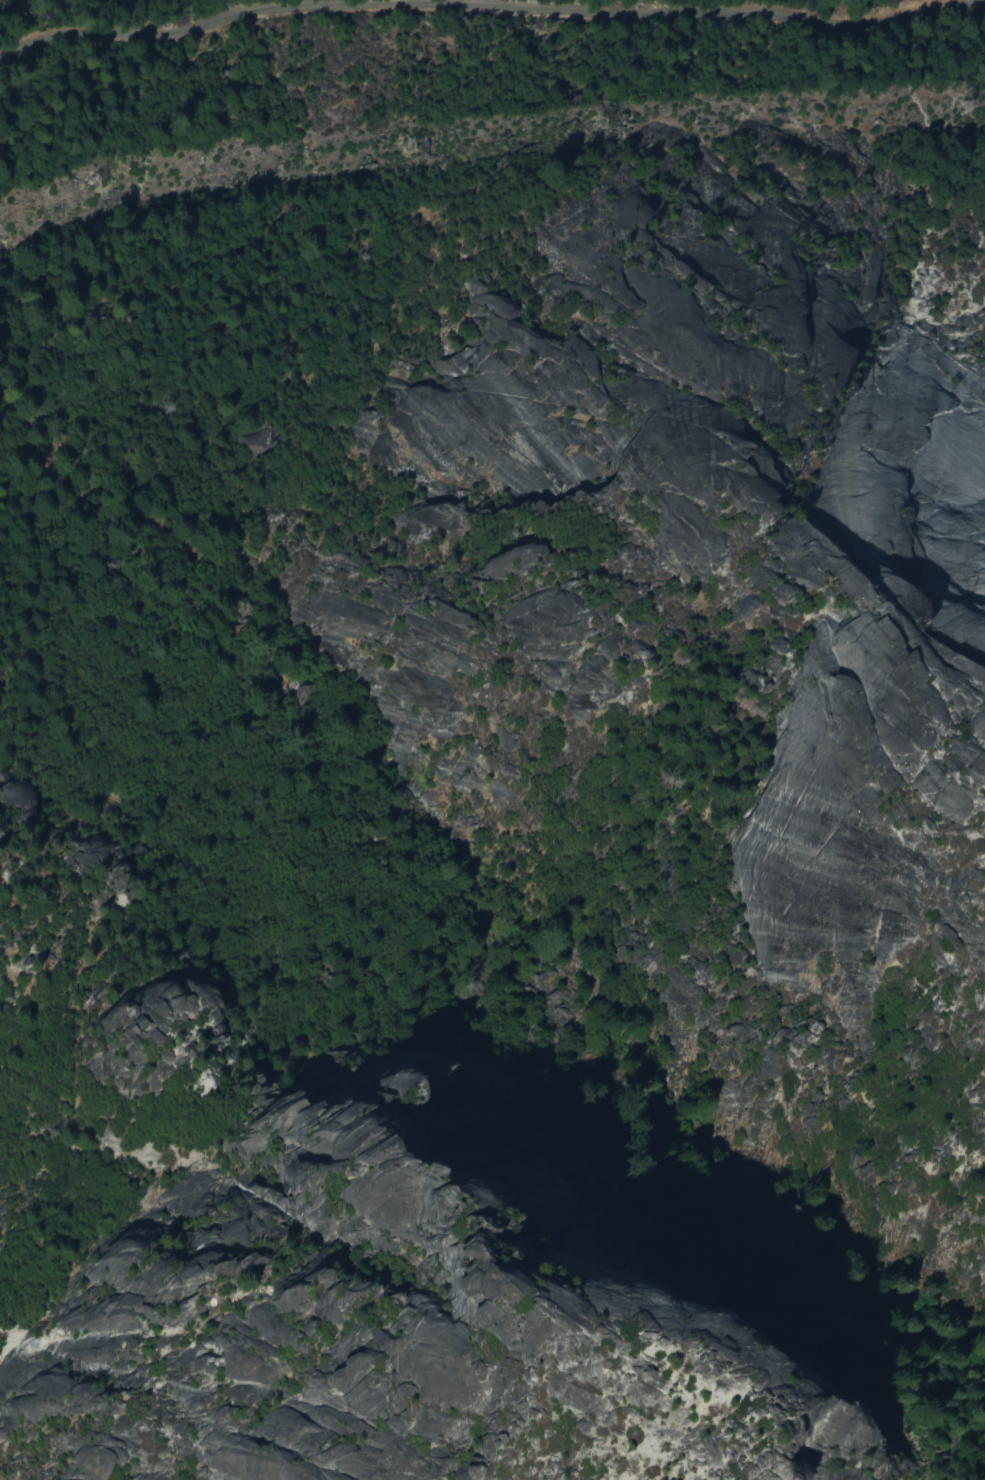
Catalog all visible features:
road: (489, 7)
power tower: (963, 110)
power tower: (599, 127)
power tower: (408, 153)
power tower: (94, 188)

